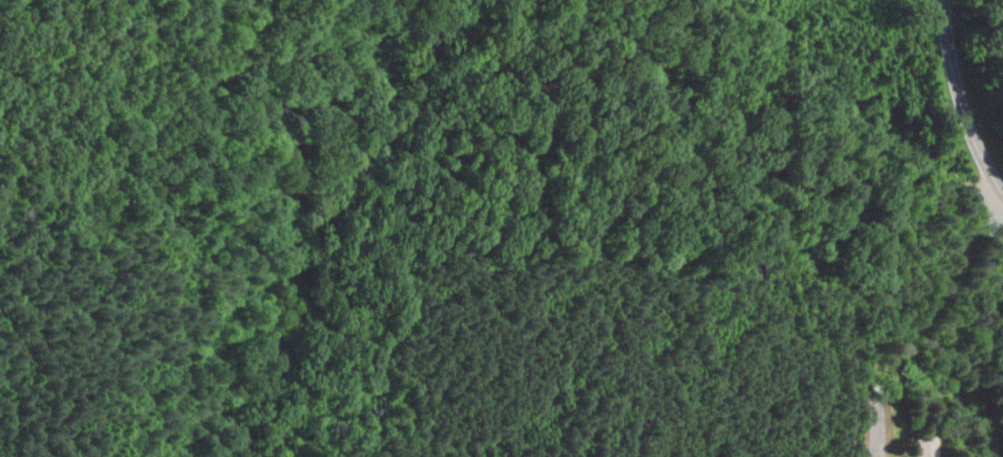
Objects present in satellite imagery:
road: (949, 44)
road: (853, 115)
road: (976, 140)
road: (994, 267)
building: (926, 446)

